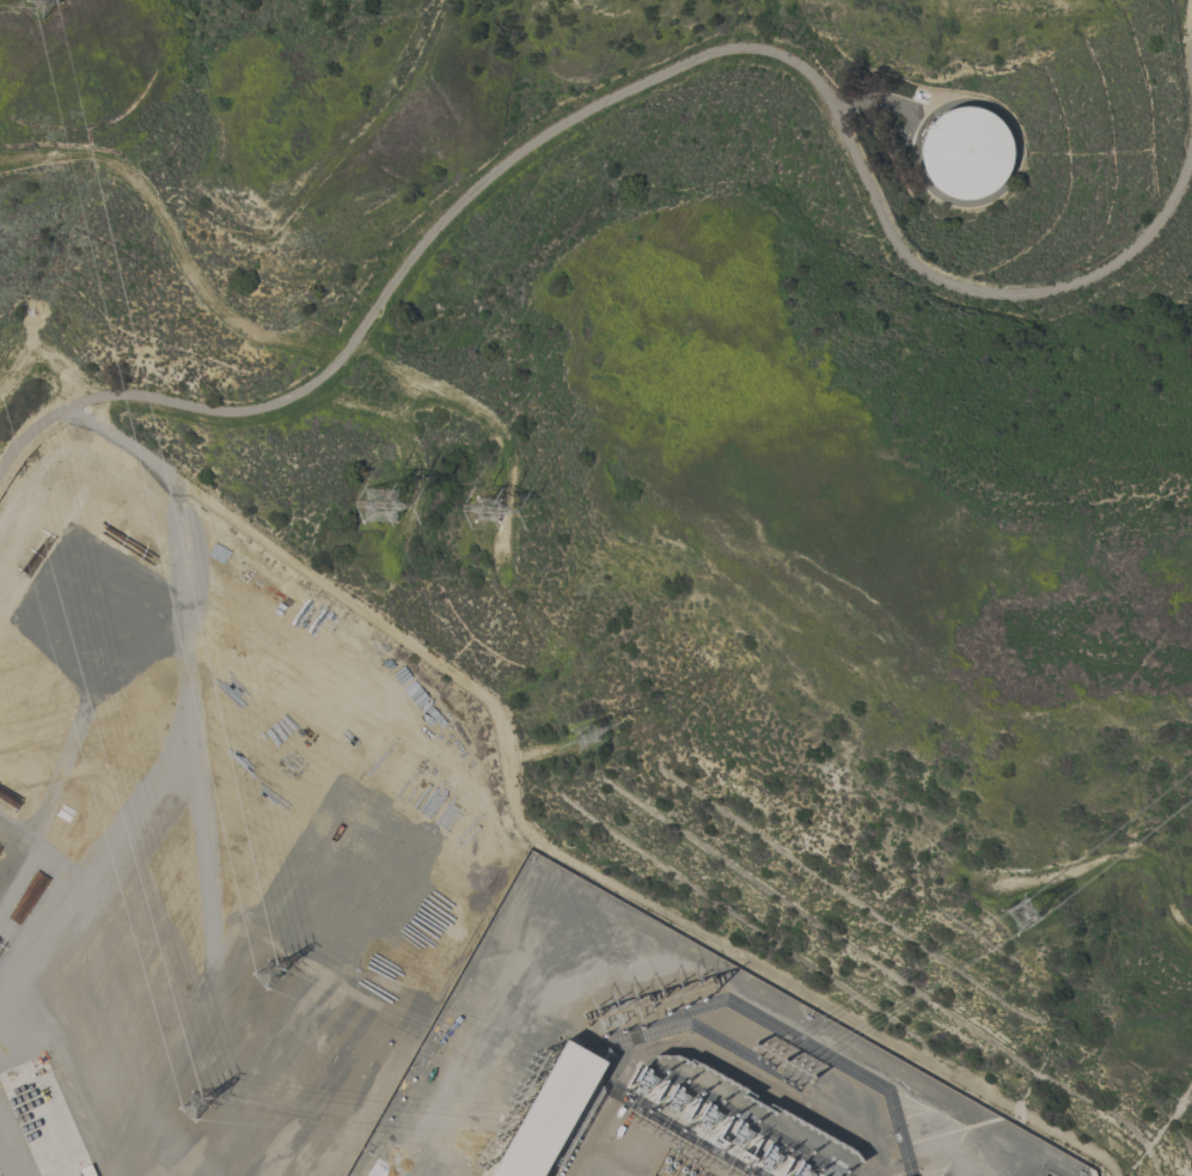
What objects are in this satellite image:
road: (1188, 55)
road: (668, 71)
building: (971, 154)
water tower: (959, 156)
power tower: (363, 502)
power tower: (479, 506)
road: (187, 666)
power tower: (587, 737)
power tower: (1011, 914)
power tower: (259, 967)
power substation: (660, 1064)
power tower: (184, 1104)
building: (549, 1111)
road: (2, 1168)

